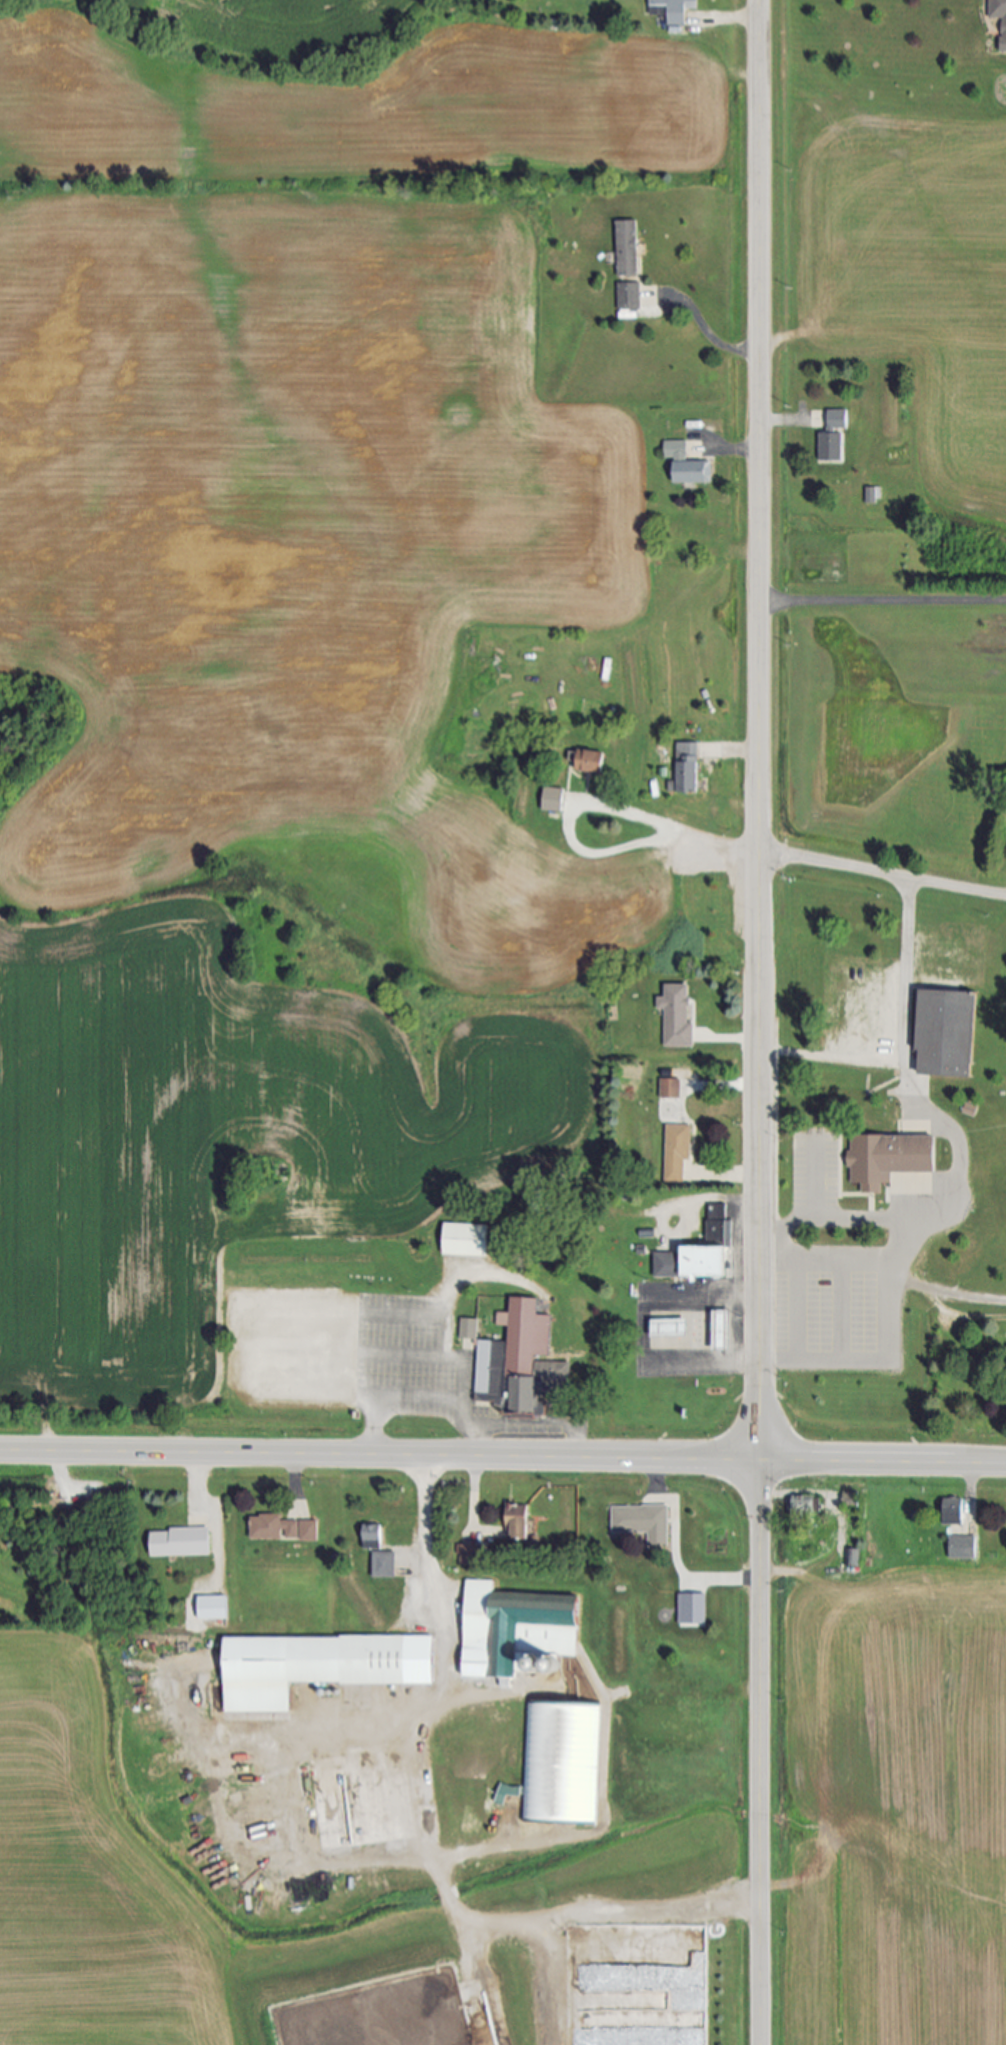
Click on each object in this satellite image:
building: (676, 10)
building: (999, 16)
road: (737, 19)
crop: (269, 22)
building: (628, 248)
building: (630, 296)
road: (705, 328)
road: (782, 421)
building: (833, 438)
road: (738, 450)
building: (684, 464)
crop: (313, 469)
building: (873, 494)
road: (883, 603)
building: (590, 764)
building: (688, 767)
building: (555, 799)
road: (578, 803)
road: (871, 873)
road: (994, 897)
building: (678, 1016)
road: (761, 1022)
building: (947, 1034)
road: (881, 1055)
building: (671, 1089)
park: (880, 1137)
crop: (222, 1138)
building: (677, 1154)
road: (961, 1157)
building: (890, 1159)
road: (737, 1175)
road: (816, 1180)
road: (719, 1197)
road: (843, 1220)
building: (717, 1222)
building: (466, 1241)
building: (693, 1263)
road: (886, 1271)
road: (643, 1329)
building: (468, 1330)
building: (690, 1332)
building: (522, 1366)
park: (966, 1366)
road: (422, 1404)
road: (502, 1458)
road: (972, 1480)
road: (197, 1481)
road: (473, 1493)
building: (852, 1499)
building: (803, 1506)
building: (956, 1512)
building: (640, 1521)
building: (517, 1522)
road: (838, 1523)
building: (285, 1529)
building: (181, 1542)
building: (963, 1548)
building: (380, 1553)
building: (467, 1556)
building: (850, 1559)
road: (423, 1574)
building: (213, 1609)
building: (693, 1609)
building: (520, 1629)
building: (305, 1668)
building: (562, 1764)
building: (361, 1818)
crop: (81, 1884)
road: (581, 1913)

